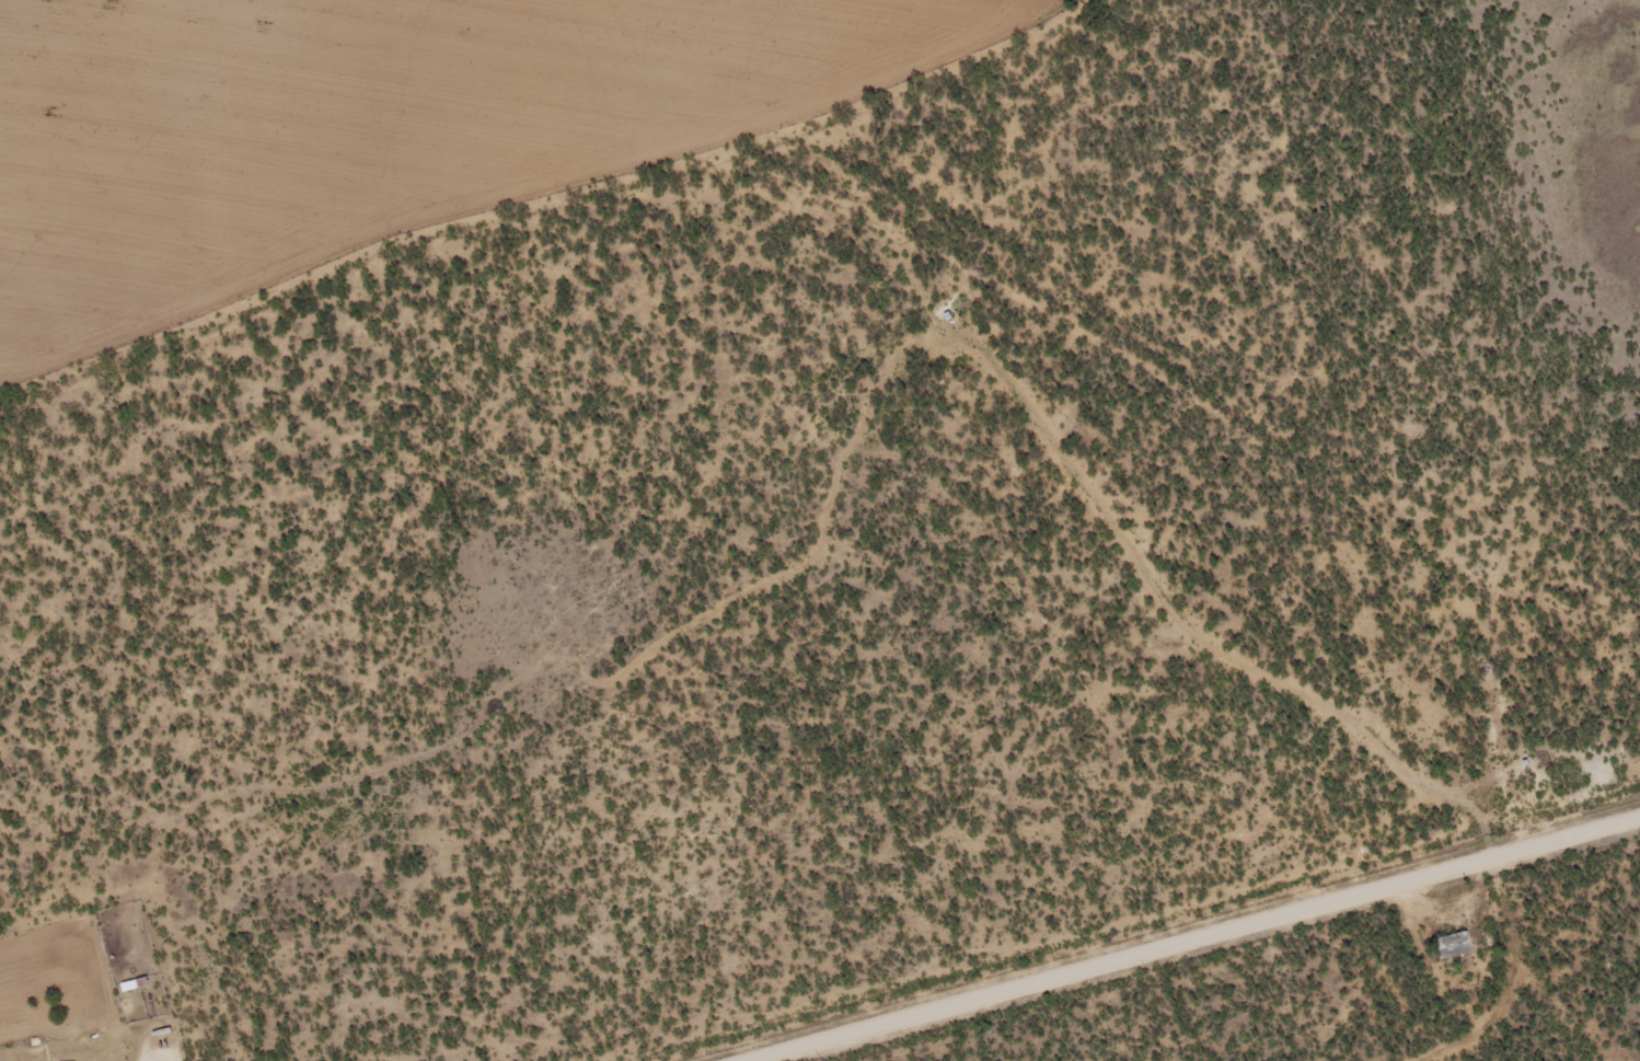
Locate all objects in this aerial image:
road: (571, 193)
road: (1187, 936)
building: (1455, 943)

